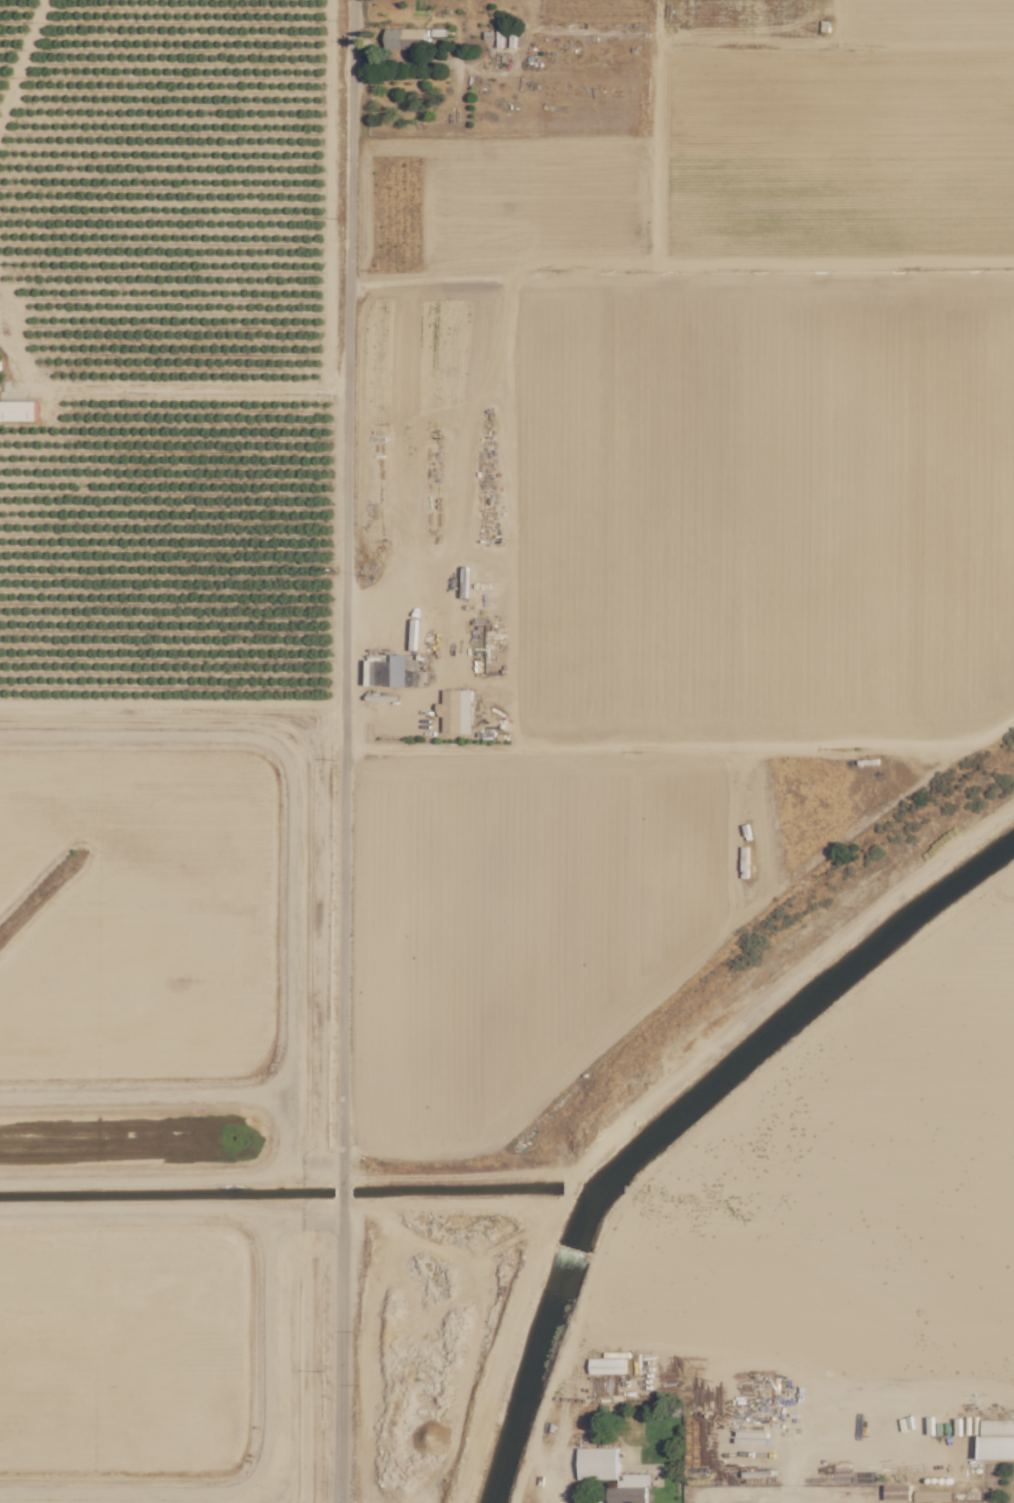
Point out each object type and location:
building: (406, 38)
road: (182, 386)
building: (18, 411)
road: (442, 663)
building: (399, 672)
building: (456, 711)
road: (345, 751)
building: (617, 1355)
building: (608, 1366)
building: (997, 1439)
building: (613, 1475)
building: (898, 1492)
building: (934, 1496)

